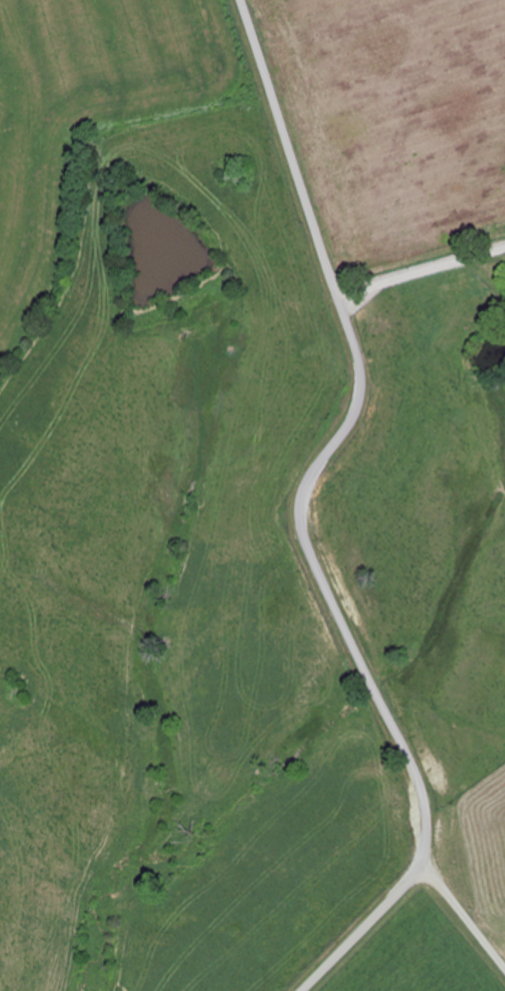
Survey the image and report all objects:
road: (301, 513)
road: (416, 950)

